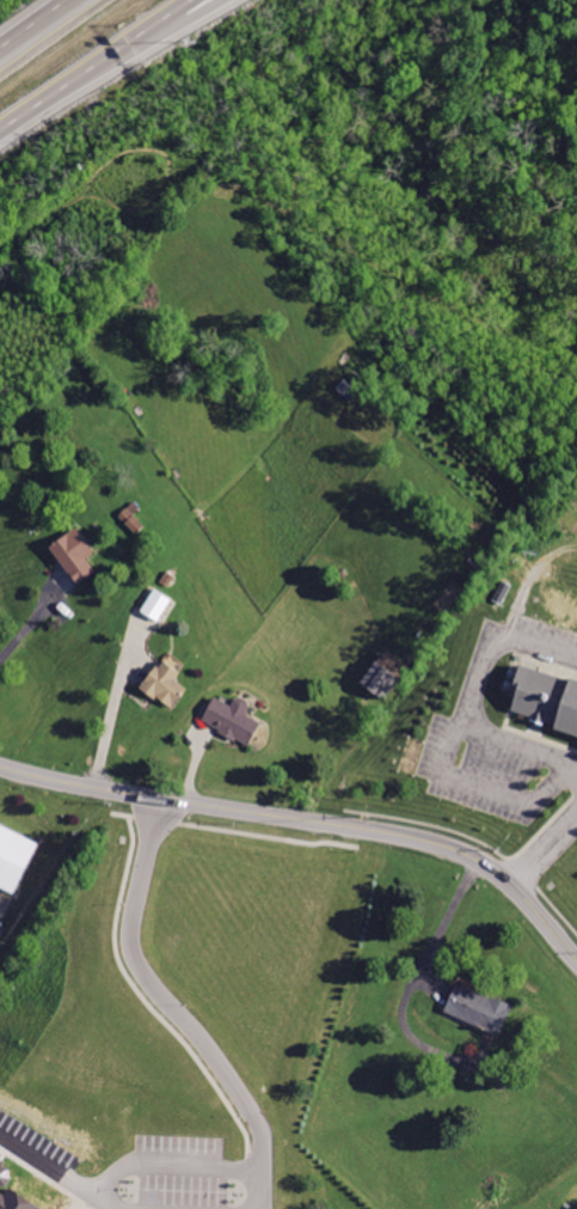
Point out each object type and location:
road: (177, 12)
road: (183, 12)
road: (36, 25)
road: (80, 74)
building: (78, 555)
building: (156, 604)
road: (31, 623)
road: (490, 637)
building: (386, 672)
building: (166, 684)
building: (545, 697)
road: (113, 707)
building: (234, 718)
parking lot: (502, 731)
road: (521, 744)
building: (412, 756)
road: (485, 784)
road: (309, 819)
road: (569, 826)
building: (14, 855)
road: (538, 857)
road: (155, 993)
road: (409, 1001)
building: (478, 1006)
building: (251, 1022)
road: (161, 1160)
road: (258, 1186)
building: (12, 1192)

